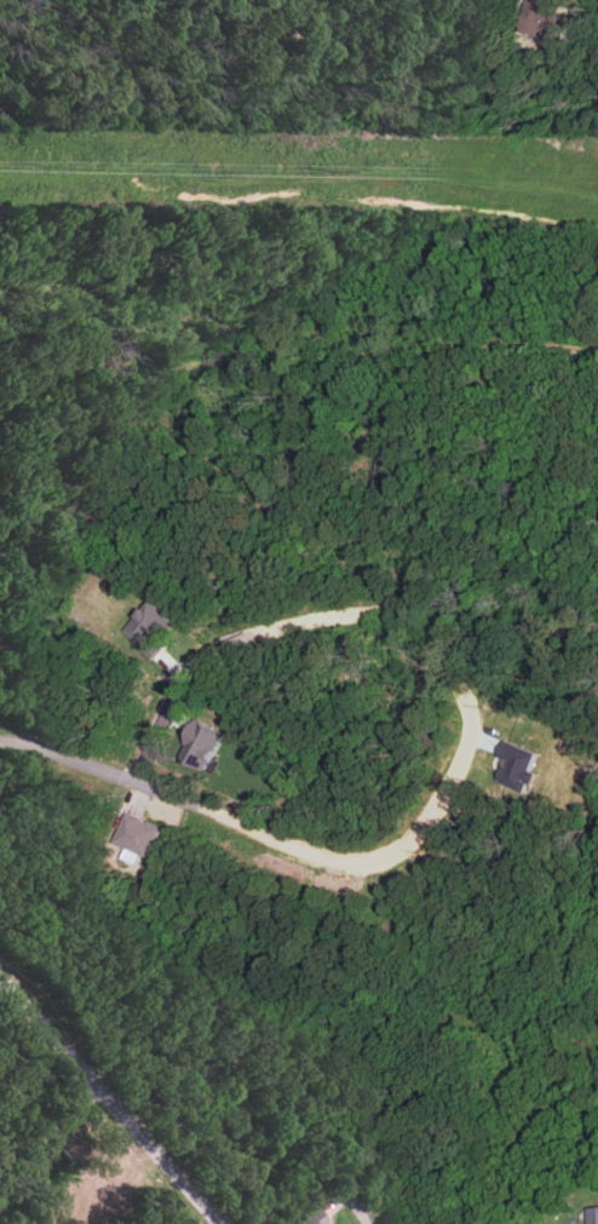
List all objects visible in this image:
road: (293, 345)
road: (305, 624)
building: (145, 627)
building: (202, 745)
road: (70, 755)
building: (139, 835)
road: (111, 1097)
road: (376, 1203)
building: (593, 1214)
building: (310, 1218)

